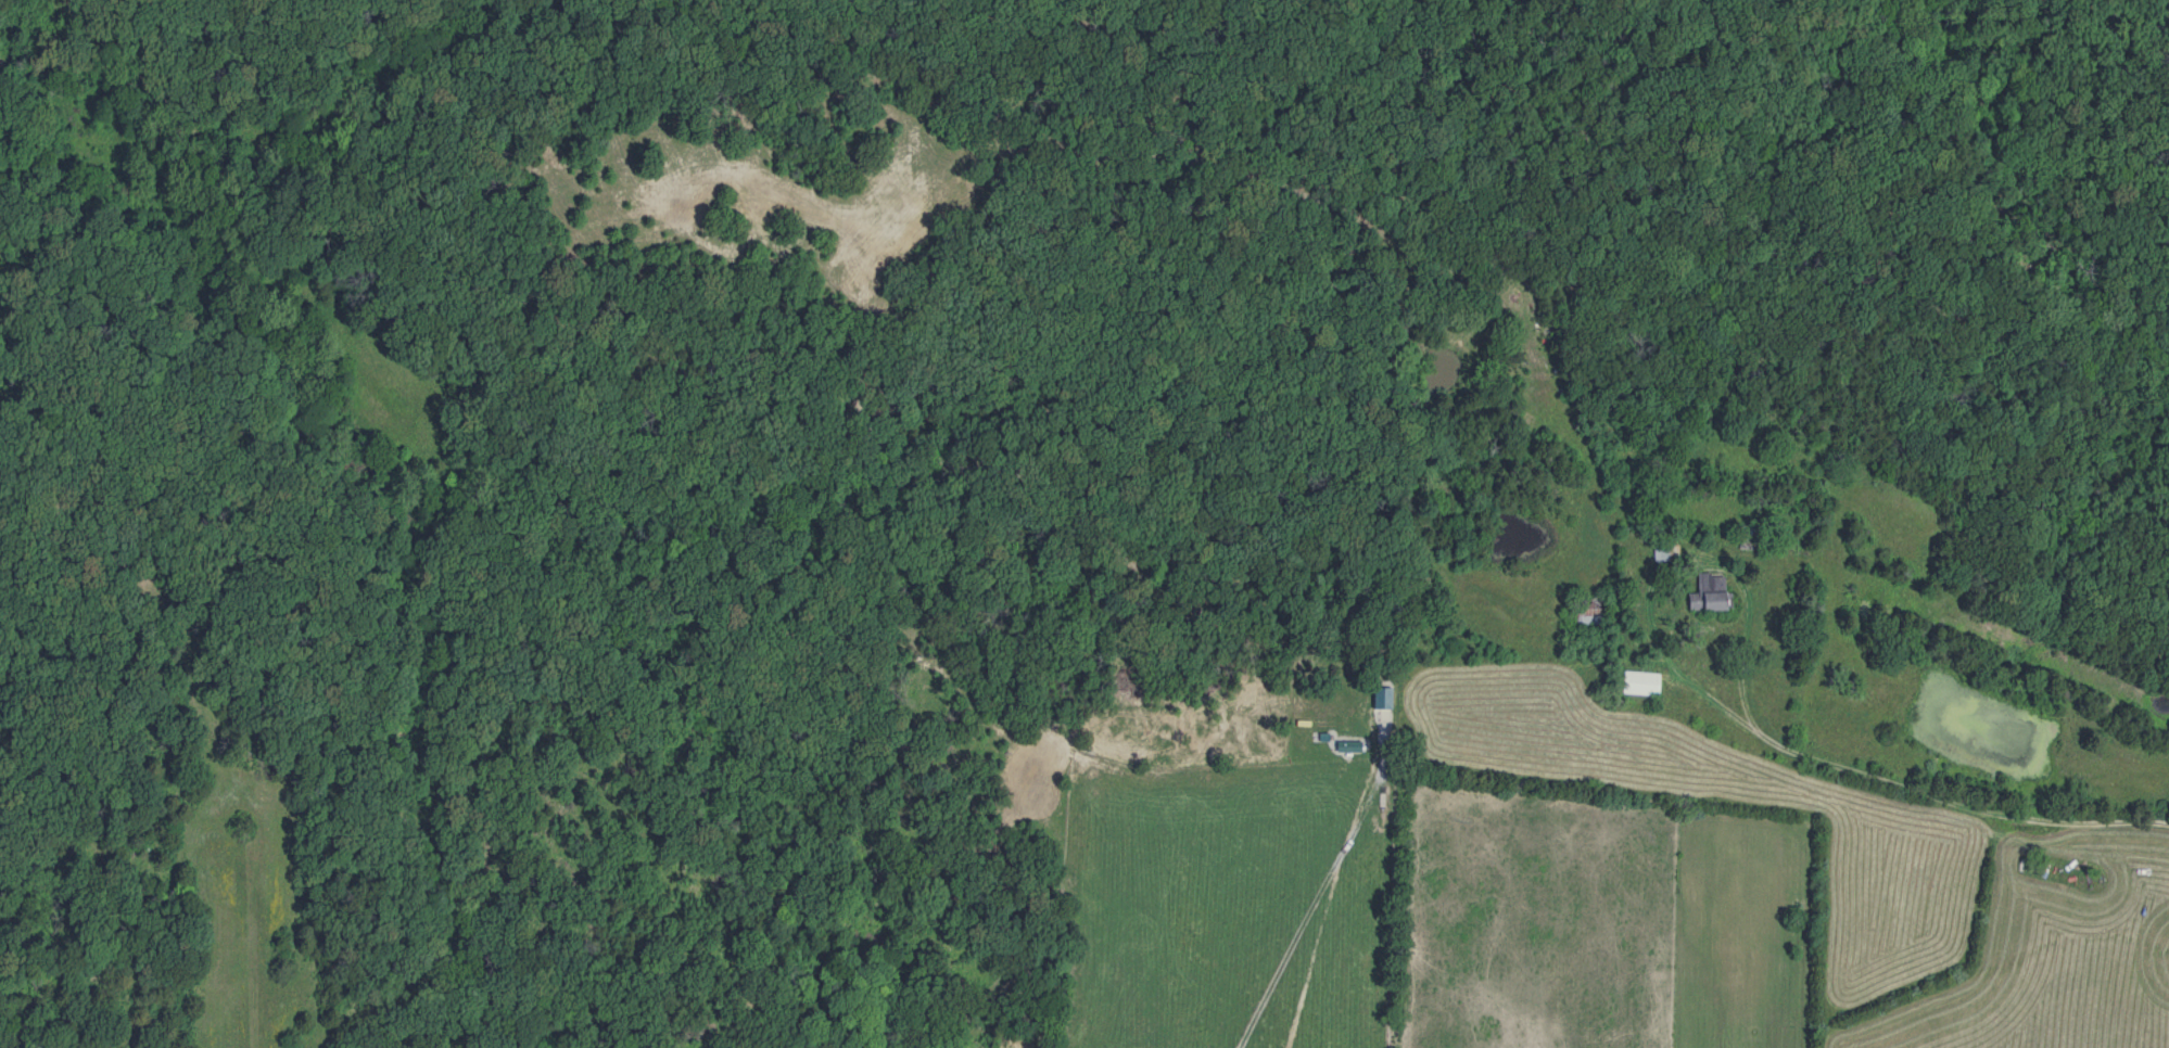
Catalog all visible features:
building: (1664, 553)
road: (1672, 566)
building: (1705, 593)
building: (1636, 682)
road: (1952, 802)
road: (1314, 894)

